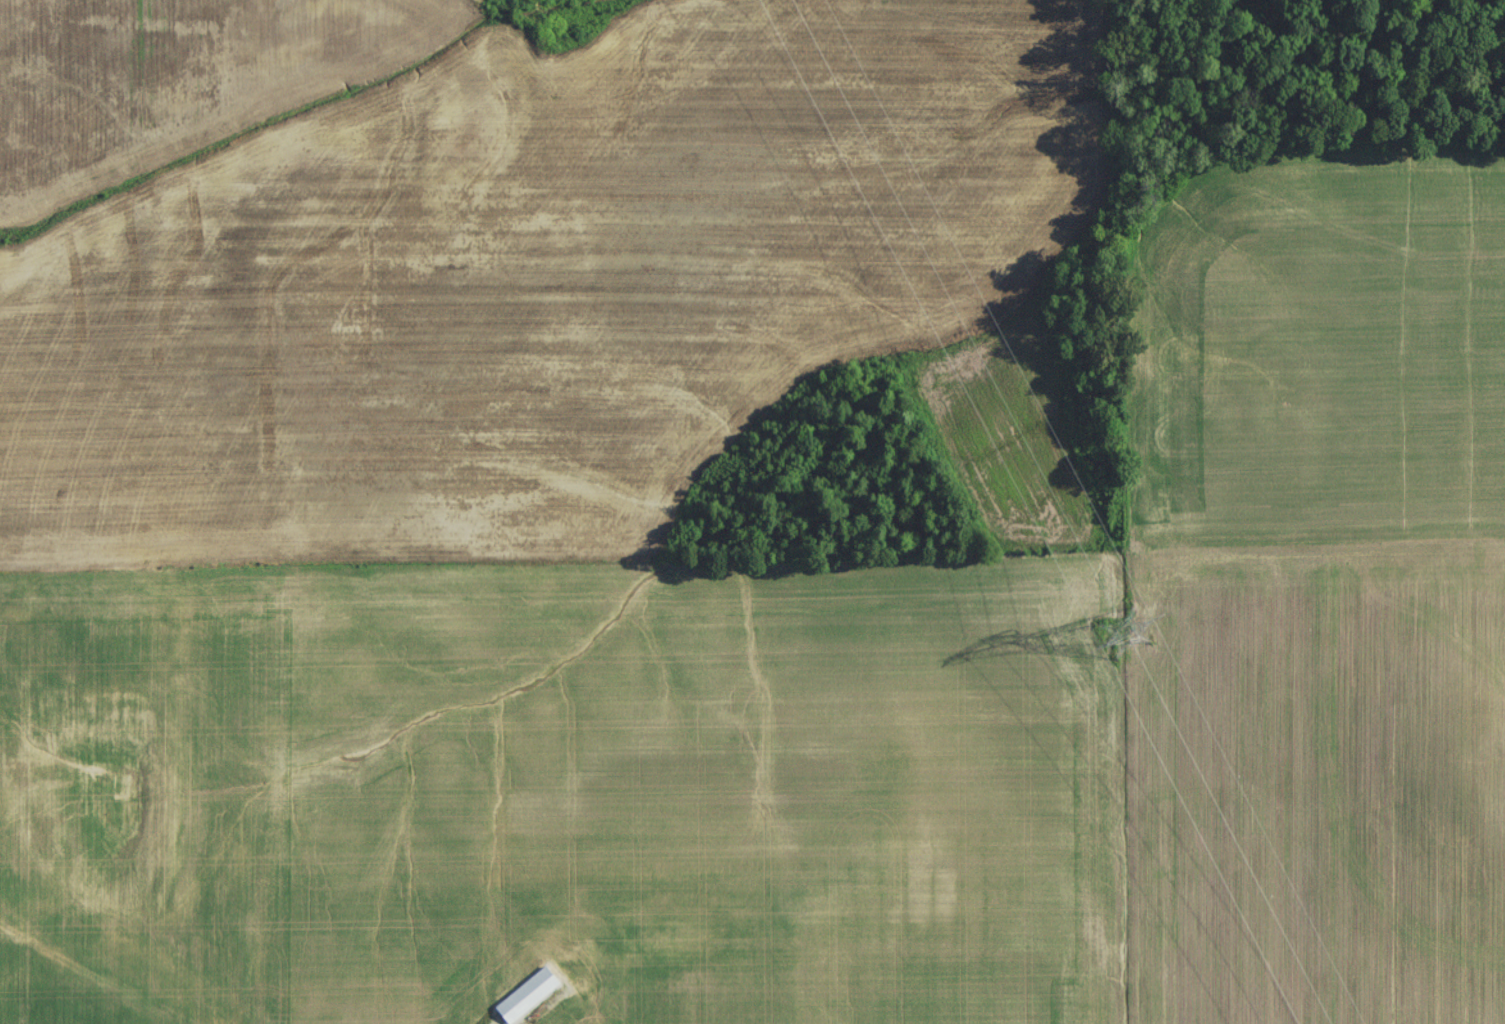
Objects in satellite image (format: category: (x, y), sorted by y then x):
power tower: (1120, 636)
building: (571, 953)
building: (527, 998)

